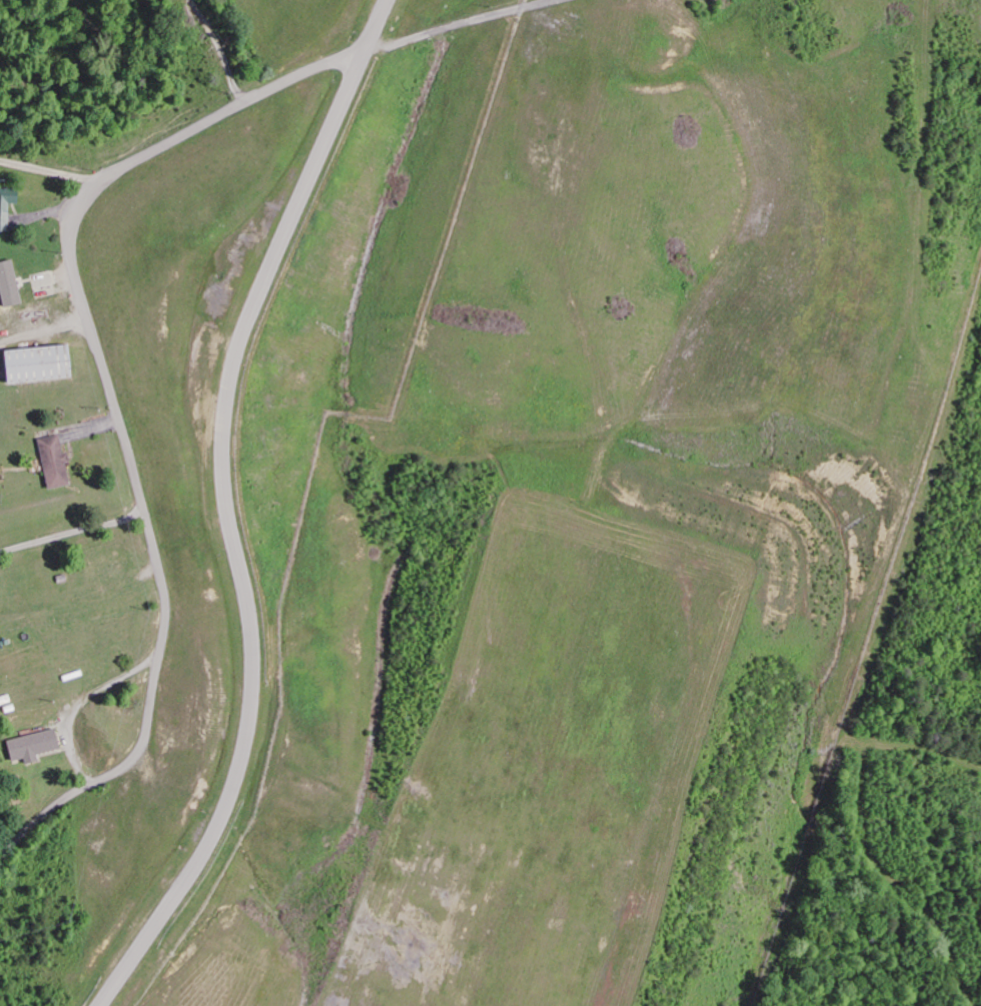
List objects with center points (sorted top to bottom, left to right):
road: (472, 21)
road: (207, 52)
road: (47, 173)
building: (9, 209)
building: (13, 284)
building: (45, 365)
road: (109, 392)
building: (60, 462)
road: (224, 508)
airport: (562, 663)
road: (76, 708)
building: (42, 746)

